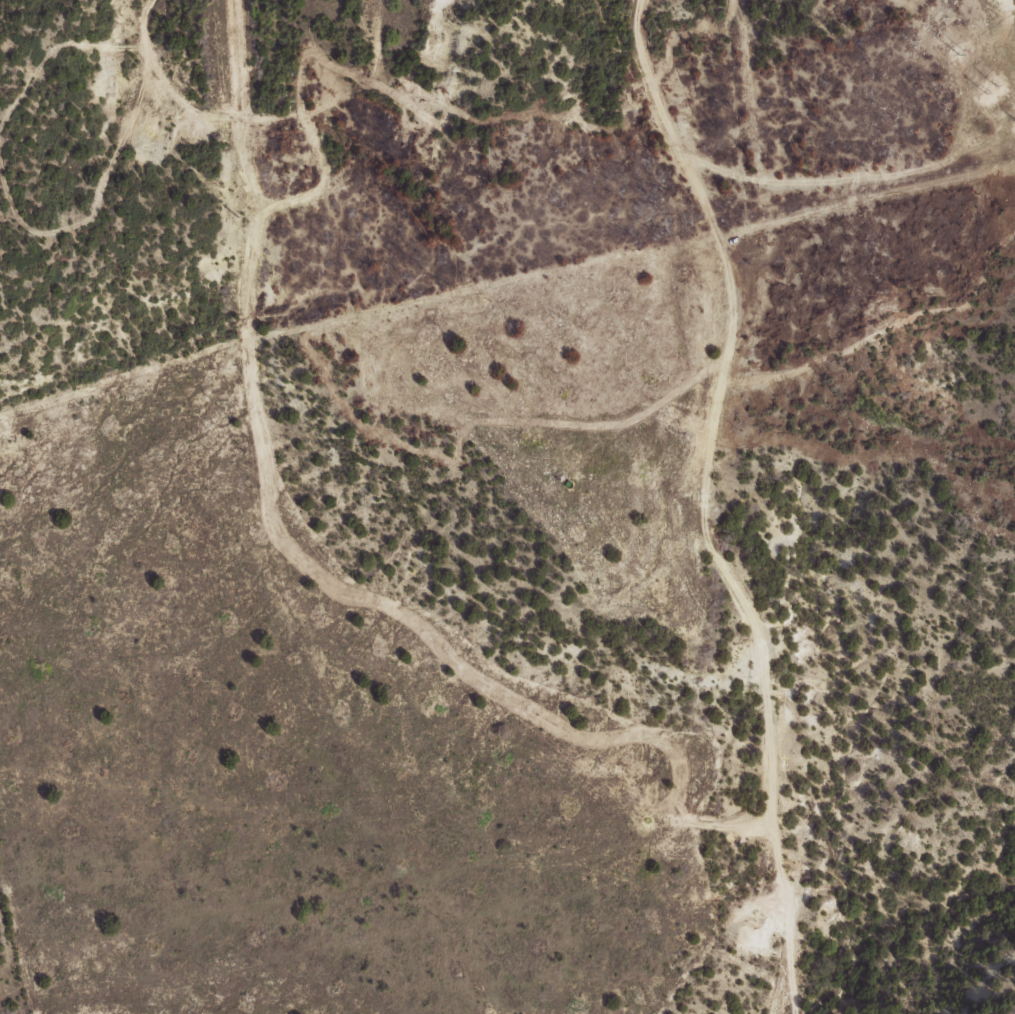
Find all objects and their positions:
road: (739, 771)

